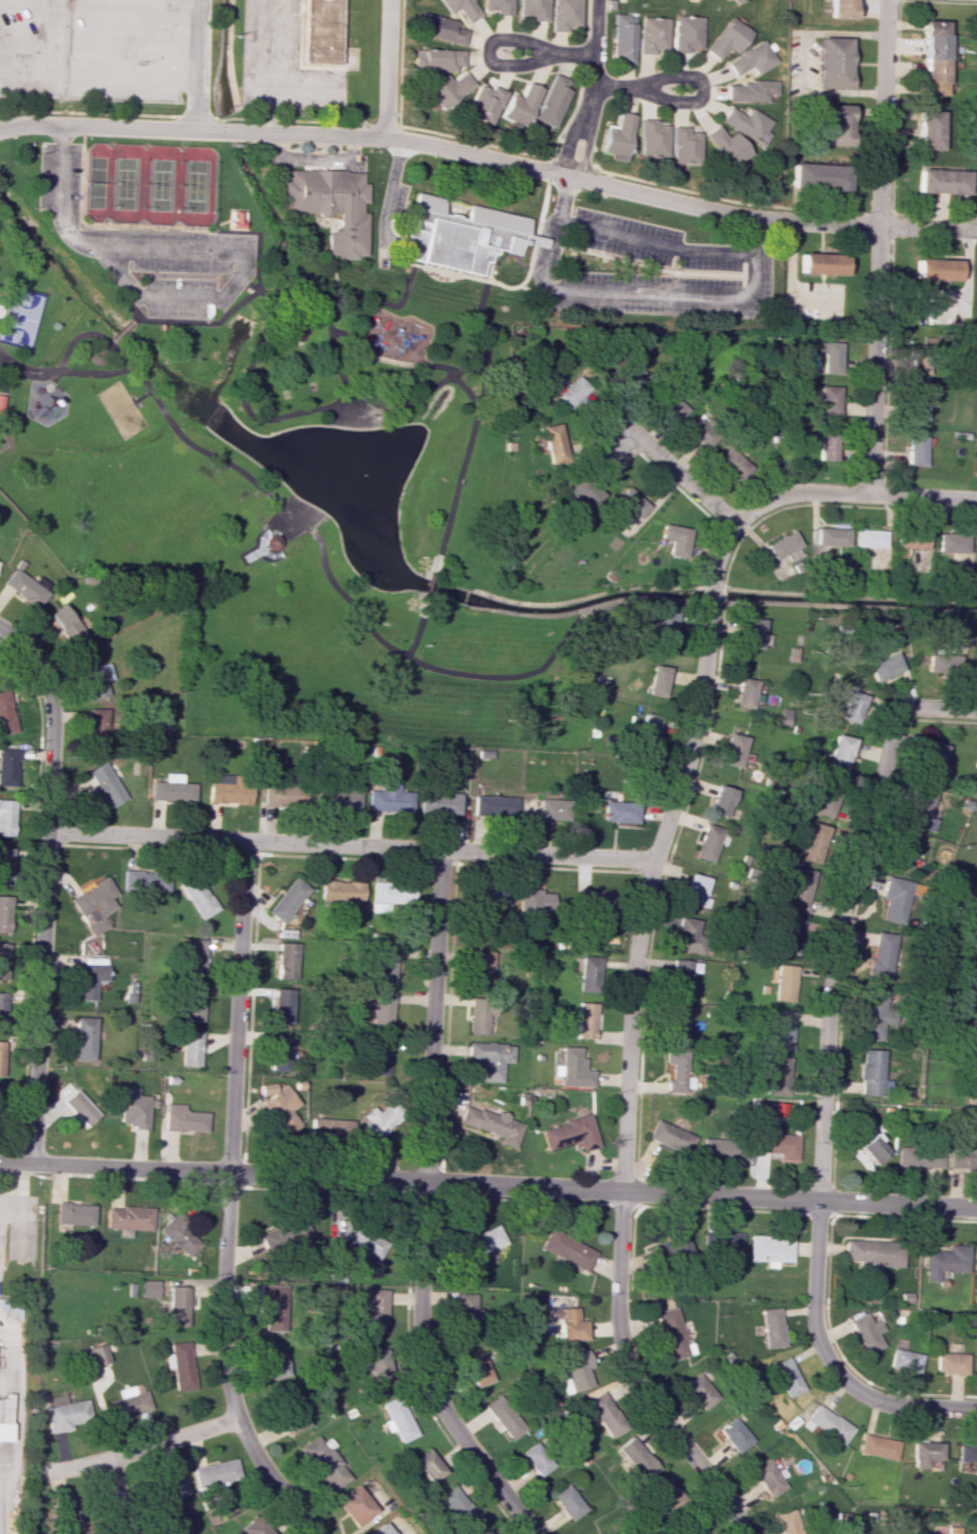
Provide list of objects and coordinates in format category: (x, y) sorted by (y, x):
building: (730, 0)
road: (98, 4)
building: (499, 6)
building: (463, 8)
building: (535, 9)
building: (839, 9)
building: (567, 15)
building: (441, 28)
building: (321, 32)
building: (686, 33)
building: (654, 35)
building: (624, 37)
road: (98, 38)
building: (728, 38)
building: (933, 57)
building: (438, 59)
building: (752, 59)
road: (594, 61)
road: (803, 62)
building: (834, 62)
road: (195, 64)
road: (504, 64)
road: (390, 68)
road: (97, 77)
building: (449, 89)
building: (751, 91)
building: (552, 101)
road: (690, 101)
building: (486, 103)
building: (521, 107)
road: (87, 112)
road: (196, 118)
road: (295, 121)
road: (384, 123)
building: (747, 123)
building: (836, 125)
building: (928, 130)
building: (618, 137)
building: (651, 138)
road: (68, 144)
road: (570, 145)
building: (683, 145)
road: (442, 146)
building: (726, 148)
road: (587, 149)
road: (520, 152)
road: (574, 158)
road: (310, 159)
building: (818, 176)
building: (942, 181)
park: (147, 185)
road: (688, 190)
road: (389, 194)
building: (330, 205)
road: (829, 210)
building: (235, 221)
road: (243, 221)
road: (928, 225)
road: (101, 226)
road: (255, 232)
road: (537, 232)
building: (460, 235)
road: (655, 244)
road: (878, 245)
parking lot: (146, 249)
road: (407, 263)
building: (821, 263)
road: (638, 264)
road: (674, 265)
road: (625, 267)
parking lot: (644, 268)
building: (936, 269)
road: (487, 273)
road: (742, 273)
road: (196, 275)
road: (333, 275)
road: (513, 287)
road: (253, 288)
road: (965, 288)
road: (632, 295)
road: (175, 297)
road: (378, 300)
road: (480, 303)
road: (312, 310)
road: (134, 312)
road: (247, 315)
park: (17, 316)
building: (294, 329)
road: (282, 335)
road: (109, 341)
road: (106, 345)
building: (829, 356)
road: (391, 360)
road: (5, 364)
building: (918, 365)
road: (47, 376)
building: (630, 378)
road: (50, 381)
road: (5, 382)
building: (574, 393)
road: (141, 397)
building: (0, 398)
building: (828, 400)
road: (1, 403)
building: (917, 405)
building: (672, 407)
park: (120, 409)
park: (323, 410)
road: (336, 413)
road: (257, 417)
road: (379, 424)
road: (471, 424)
building: (700, 432)
road: (4, 439)
building: (554, 444)
building: (825, 444)
building: (914, 450)
building: (734, 463)
road: (678, 471)
fountain: (360, 475)
road: (850, 491)
building: (582, 495)
building: (631, 502)
road: (308, 503)
road: (294, 516)
building: (830, 536)
building: (867, 538)
building: (674, 539)
building: (909, 540)
building: (950, 542)
building: (976, 544)
road: (260, 549)
building: (784, 550)
road: (253, 555)
road: (428, 573)
building: (25, 587)
road: (636, 600)
building: (65, 625)
building: (664, 625)
building: (753, 634)
road: (392, 648)
building: (942, 664)
building: (883, 667)
building: (92, 676)
road: (499, 676)
building: (658, 680)
building: (746, 693)
building: (849, 704)
road: (929, 705)
building: (5, 715)
road: (53, 719)
building: (647, 728)
building: (97, 730)
building: (735, 751)
building: (841, 751)
building: (450, 759)
building: (933, 763)
building: (8, 767)
building: (104, 784)
building: (171, 789)
building: (226, 790)
building: (279, 795)
building: (387, 798)
building: (337, 799)
building: (721, 800)
building: (438, 803)
building: (827, 804)
building: (494, 805)
building: (551, 808)
building: (918, 808)
building: (619, 811)
building: (7, 817)
building: (708, 842)
building: (814, 842)
road: (350, 845)
road: (655, 851)
building: (903, 852)
building: (6, 865)
building: (145, 880)
building: (800, 888)
building: (341, 890)
building: (696, 891)
building: (488, 895)
building: (393, 896)
building: (198, 897)
building: (287, 899)
building: (896, 899)
building: (535, 900)
building: (94, 904)
building: (594, 907)
building: (4, 913)
building: (689, 934)
building: (789, 934)
building: (196, 955)
building: (882, 957)
building: (976, 957)
road: (832, 958)
building: (287, 959)
building: (3, 960)
building: (385, 963)
building: (481, 968)
building: (590, 974)
building: (679, 978)
building: (88, 980)
building: (785, 983)
building: (974, 989)
road: (40, 997)
building: (192, 1002)
building: (282, 1005)
road: (236, 1006)
building: (2, 1008)
building: (382, 1011)
building: (480, 1014)
building: (874, 1014)
road: (434, 1015)
building: (586, 1020)
building: (677, 1025)
building: (781, 1030)
building: (84, 1038)
building: (973, 1039)
building: (191, 1047)
building: (280, 1053)
building: (2, 1057)
building: (491, 1058)
building: (379, 1059)
building: (574, 1068)
building: (871, 1072)
building: (779, 1075)
building: (972, 1085)
building: (281, 1106)
building: (80, 1108)
building: (136, 1111)
building: (183, 1119)
building: (378, 1121)
building: (492, 1124)
building: (329, 1128)
building: (570, 1133)
building: (860, 1133)
building: (670, 1137)
building: (778, 1145)
building: (873, 1148)
building: (723, 1149)
building: (964, 1154)
building: (919, 1156)
road: (488, 1183)
building: (74, 1213)
building: (128, 1218)
building: (284, 1234)
building: (180, 1236)
building: (362, 1241)
building: (482, 1242)
building: (724, 1242)
building: (669, 1247)
building: (568, 1249)
building: (770, 1249)
building: (873, 1251)
building: (945, 1261)
building: (975, 1262)
building: (148, 1288)
building: (178, 1305)
building: (273, 1306)
building: (375, 1311)
building: (465, 1313)
building: (568, 1323)
building: (772, 1327)
building: (866, 1332)
building: (670, 1333)
building: (97, 1354)
road: (826, 1358)
building: (904, 1360)
building: (274, 1362)
building: (950, 1362)
building: (180, 1365)
road: (224, 1366)
building: (477, 1369)
building: (376, 1370)
building: (574, 1371)
road: (428, 1373)
building: (787, 1376)
road: (634, 1378)
building: (699, 1391)
building: (127, 1406)
road: (973, 1408)
building: (66, 1413)
building: (605, 1414)
building: (291, 1416)
building: (504, 1417)
building: (398, 1419)
building: (827, 1424)
building: (5, 1431)
building: (734, 1435)
building: (878, 1446)
road: (133, 1449)
building: (966, 1452)
building: (924, 1453)
building: (536, 1458)
building: (636, 1458)
building: (324, 1463)
building: (428, 1465)
building: (215, 1473)
building: (768, 1477)
building: (167, 1488)
building: (664, 1494)
road: (118, 1495)
building: (567, 1502)
building: (355, 1505)
building: (459, 1508)
building: (789, 1522)
building: (254, 1527)
building: (381, 1529)
building: (693, 1530)
building: (953, 1530)
building: (597, 1533)

